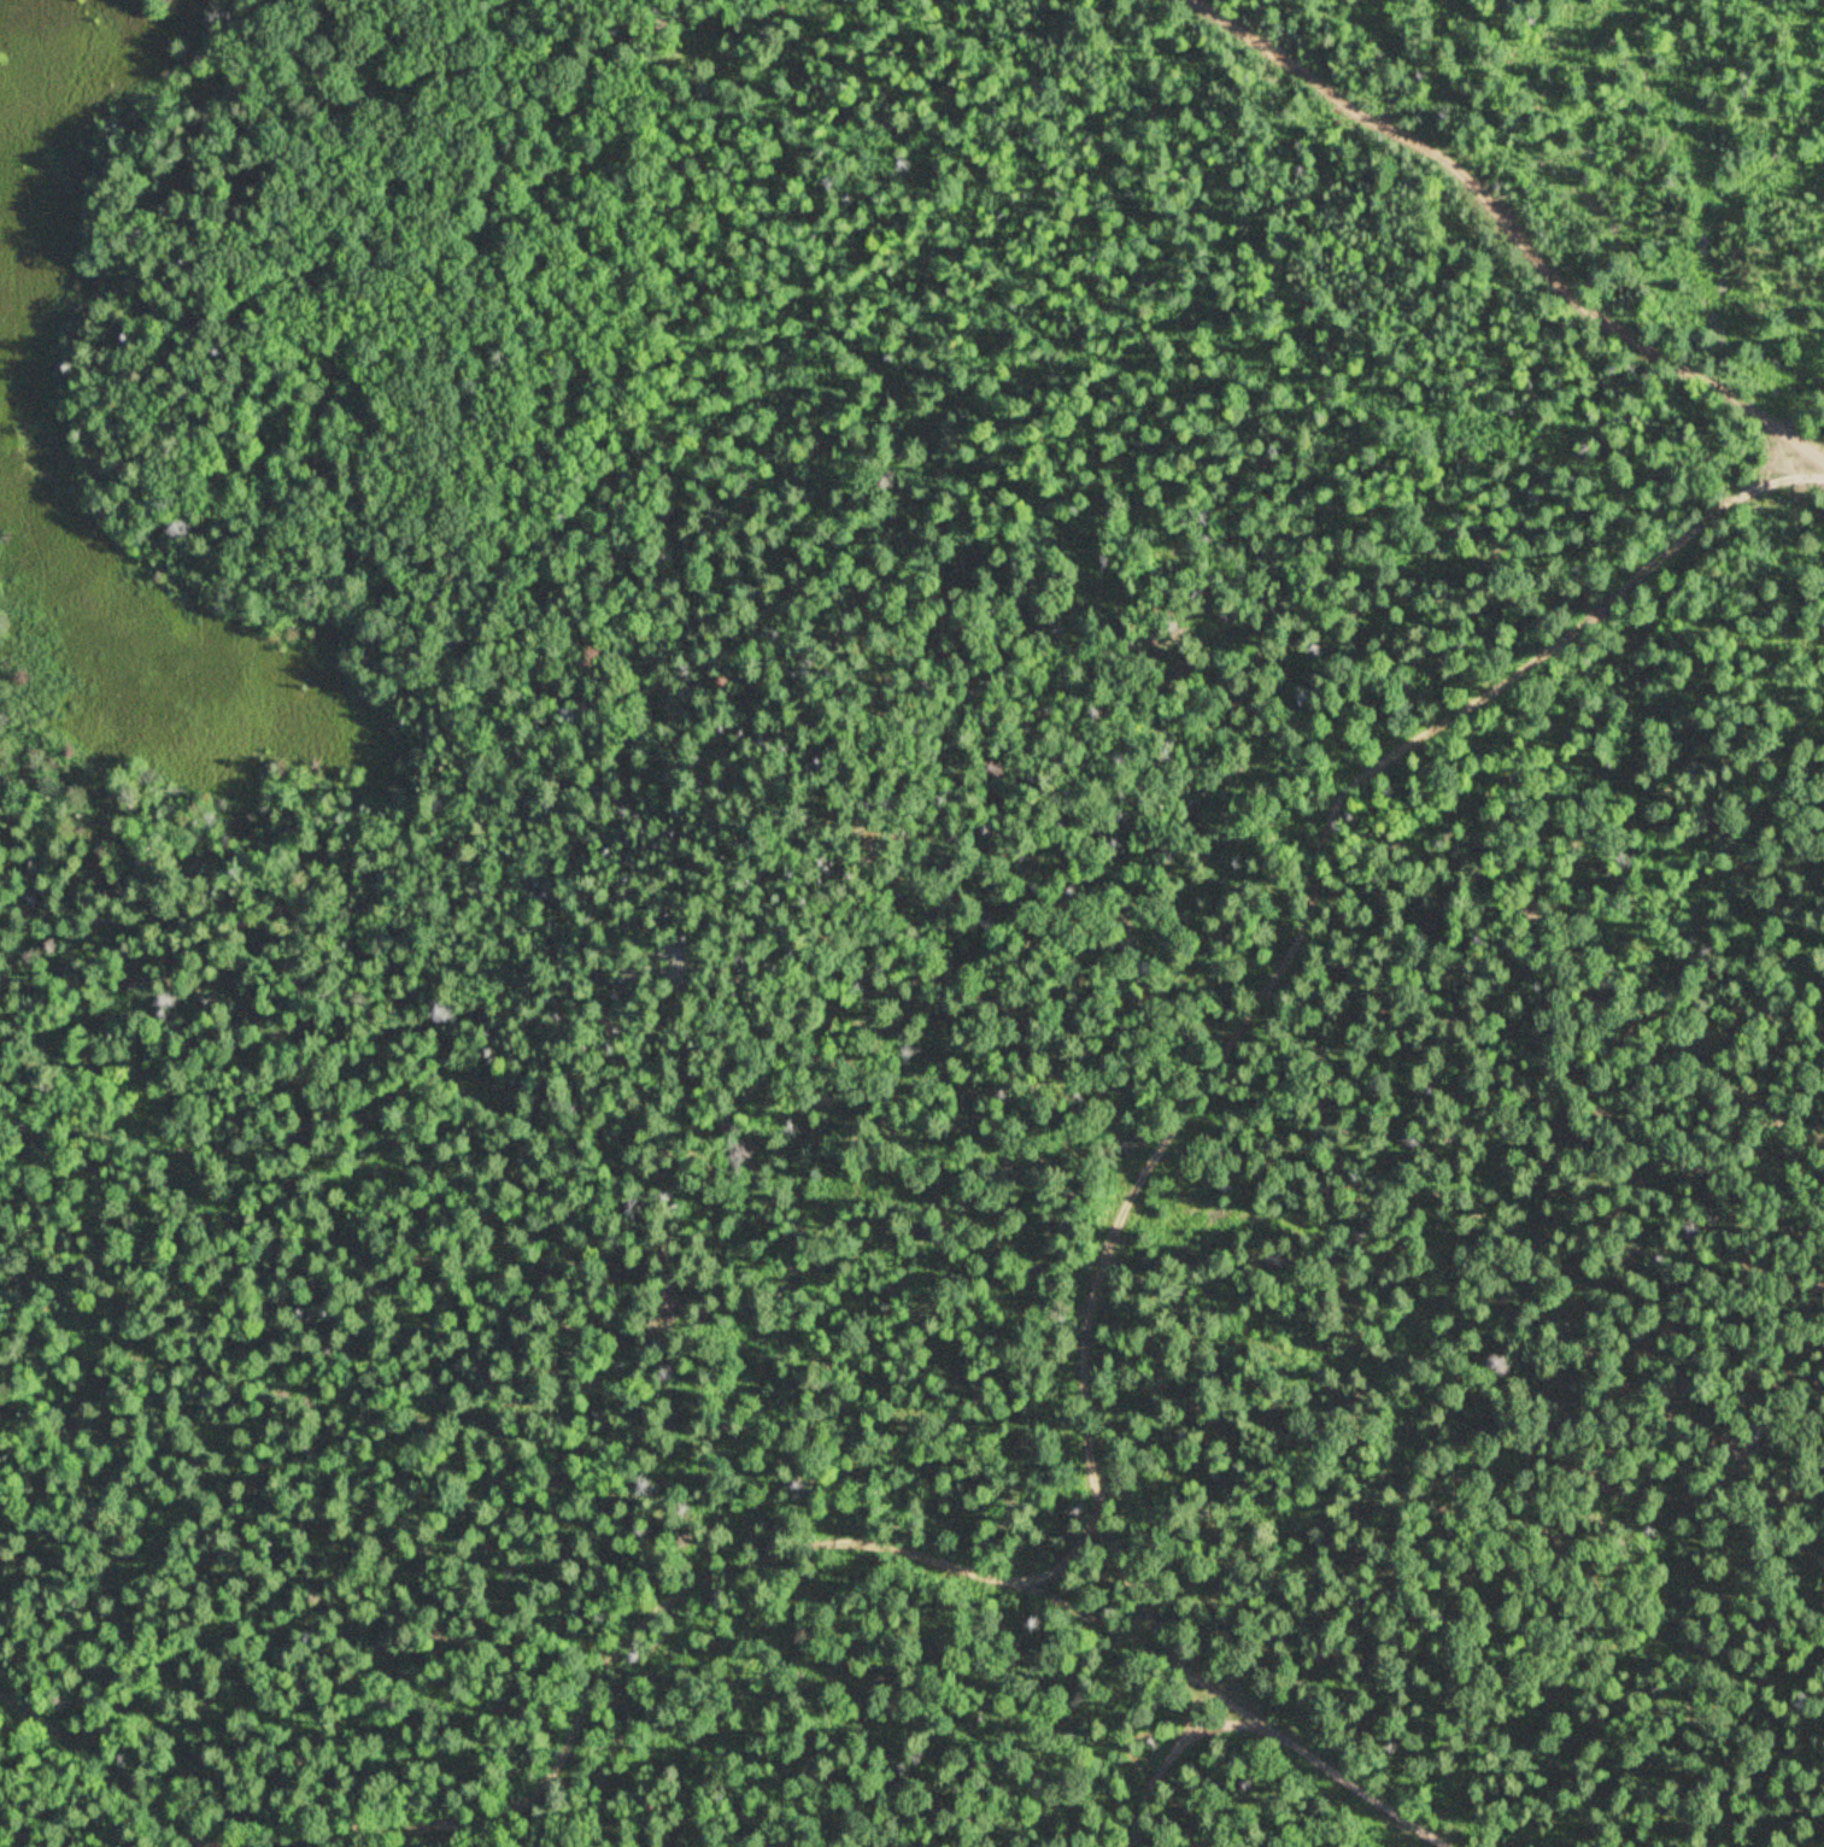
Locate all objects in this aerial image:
road: (866, 1561)
road: (66, 1754)

